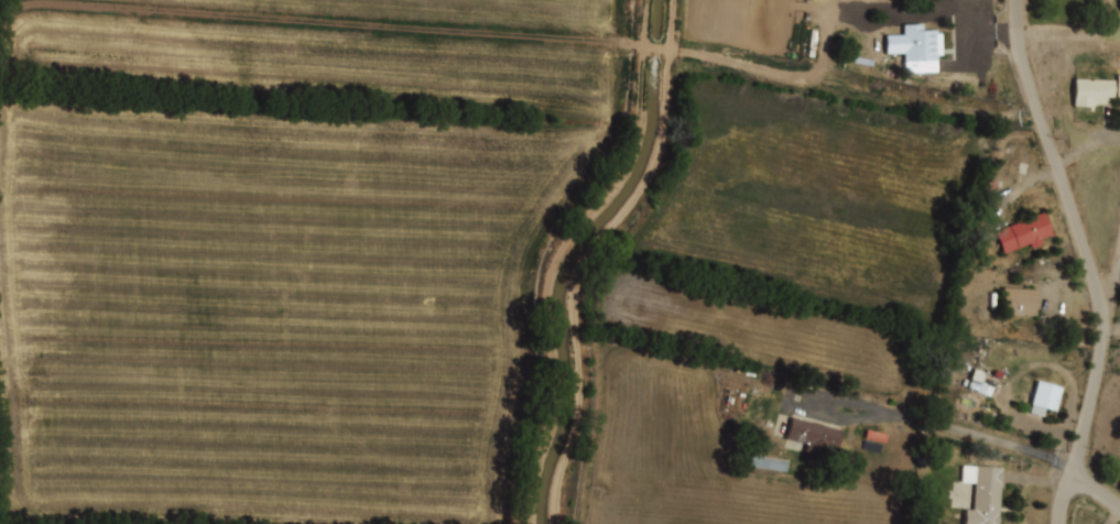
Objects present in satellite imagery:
building: (913, 4)
building: (920, 50)
building: (1118, 85)
building: (1092, 91)
building: (1024, 234)
road: (1089, 260)
road: (1112, 294)
building: (1020, 302)
building: (978, 387)
building: (1043, 400)
building: (814, 435)
road: (982, 435)
building: (768, 463)
road: (1097, 483)
building: (983, 495)

